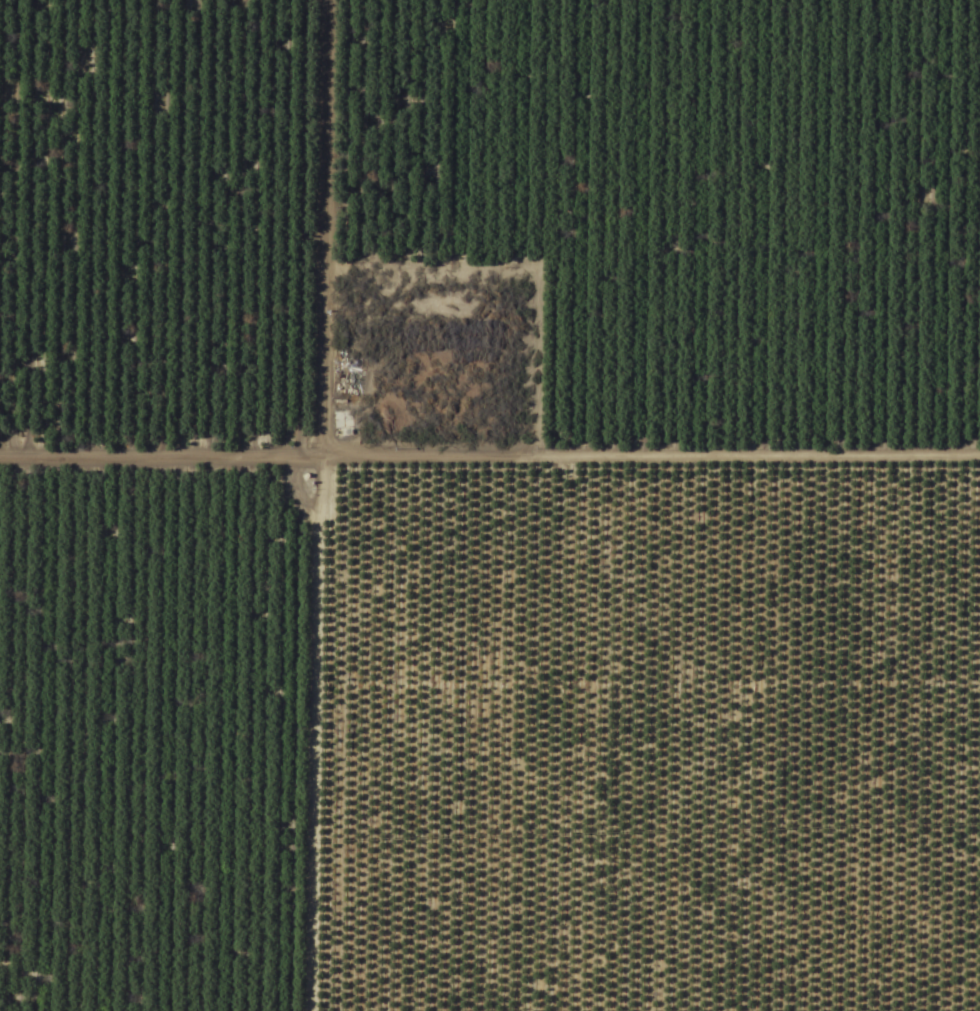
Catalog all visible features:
road: (489, 442)
crop: (490, 505)
road: (265, 726)

